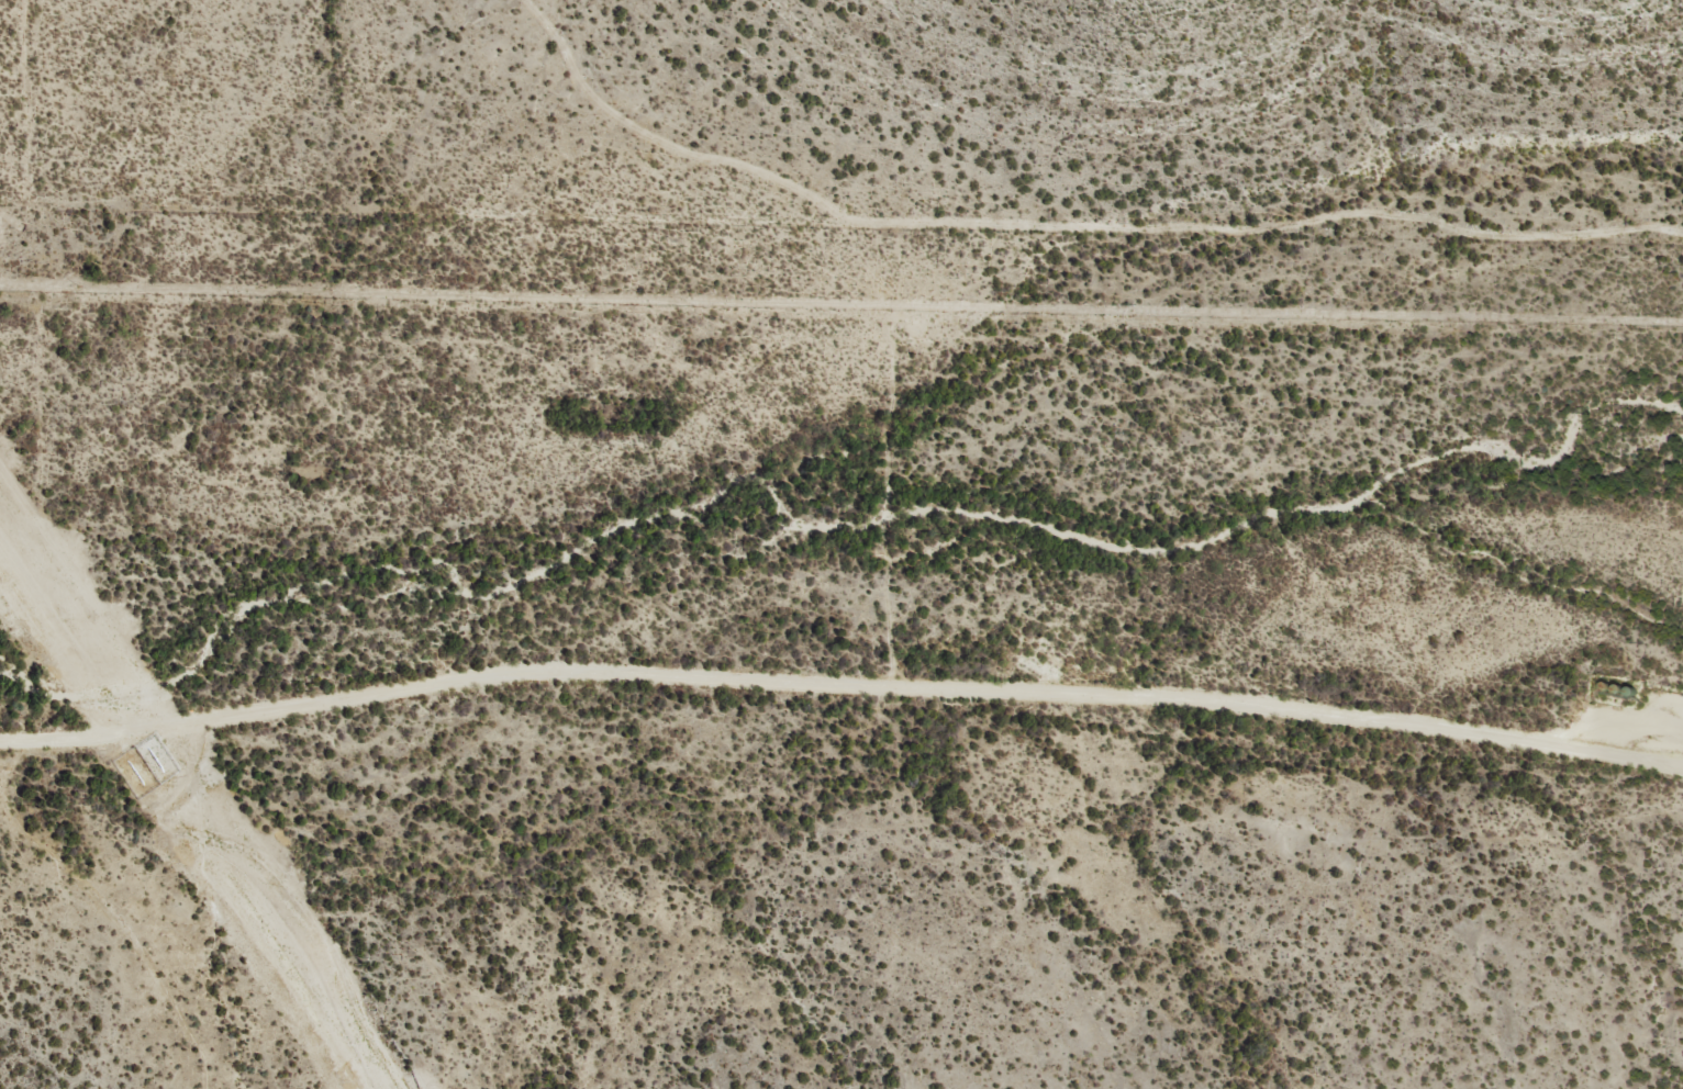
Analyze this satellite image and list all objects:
road: (835, 700)

